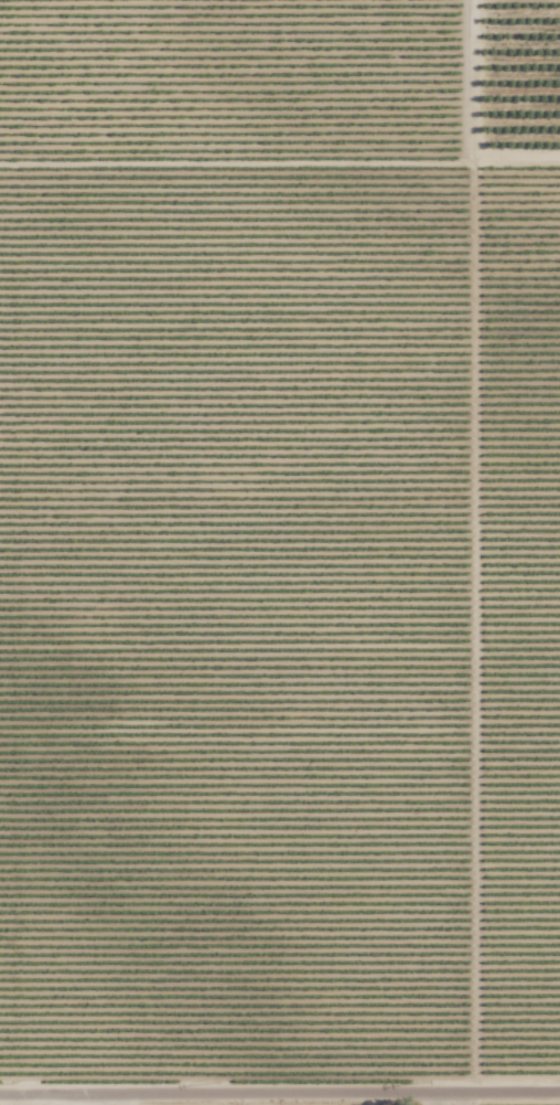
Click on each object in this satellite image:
road: (471, 548)
road: (279, 1098)
road: (472, 1101)
road: (110, 1102)
road: (2, 1103)
road: (47, 1103)

